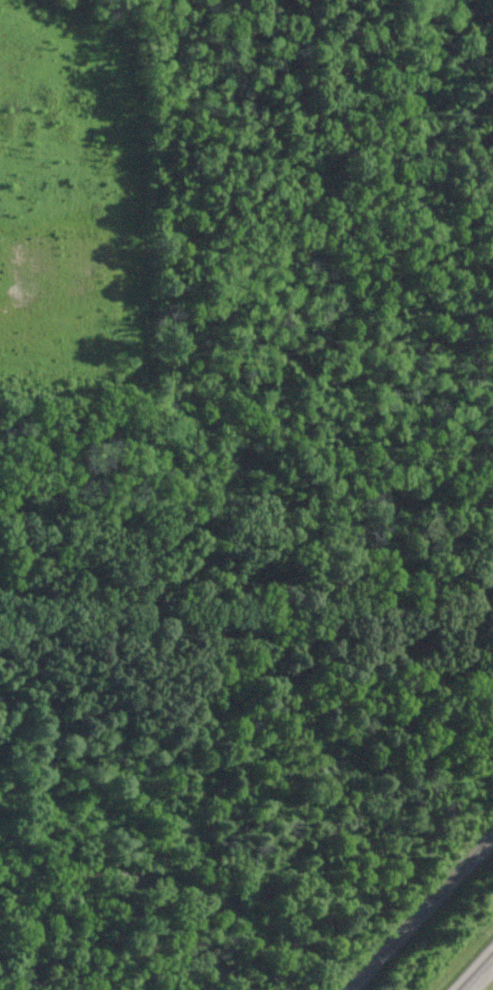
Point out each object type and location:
railway: (419, 913)
road: (480, 976)

